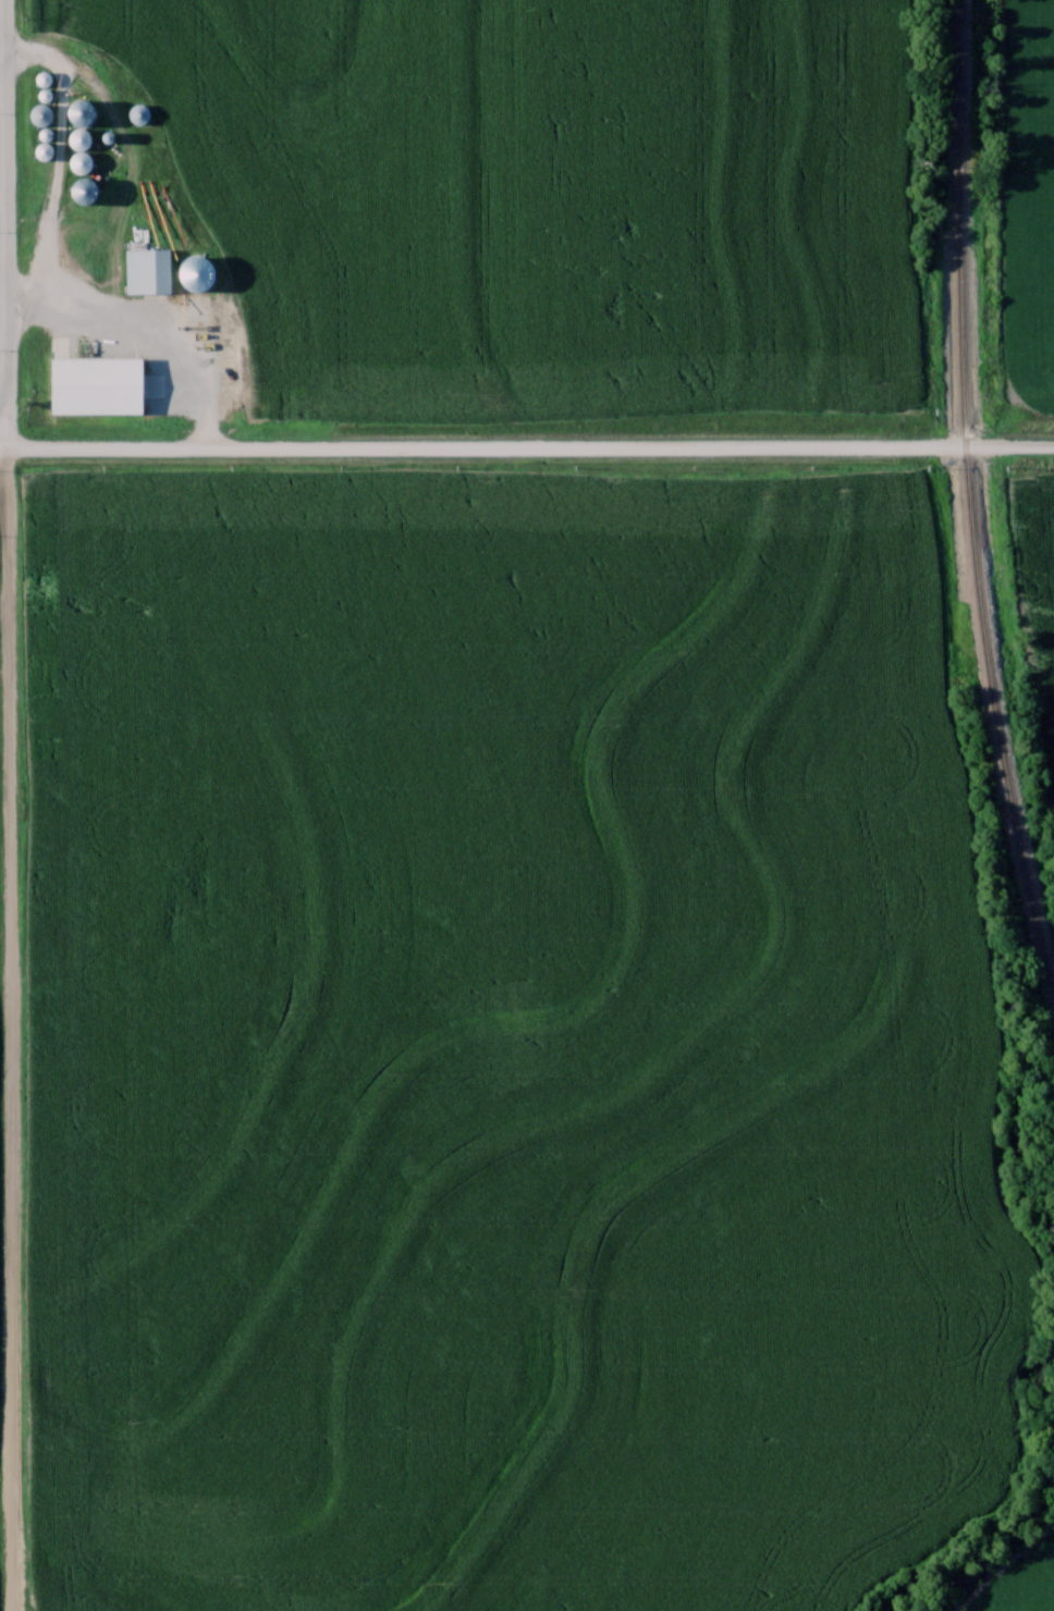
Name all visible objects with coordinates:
building: (45, 112)
building: (143, 112)
building: (83, 147)
road: (4, 186)
building: (89, 188)
building: (150, 269)
road: (85, 285)
road: (2, 388)
road: (527, 443)
railway: (969, 500)
road: (10, 1024)

